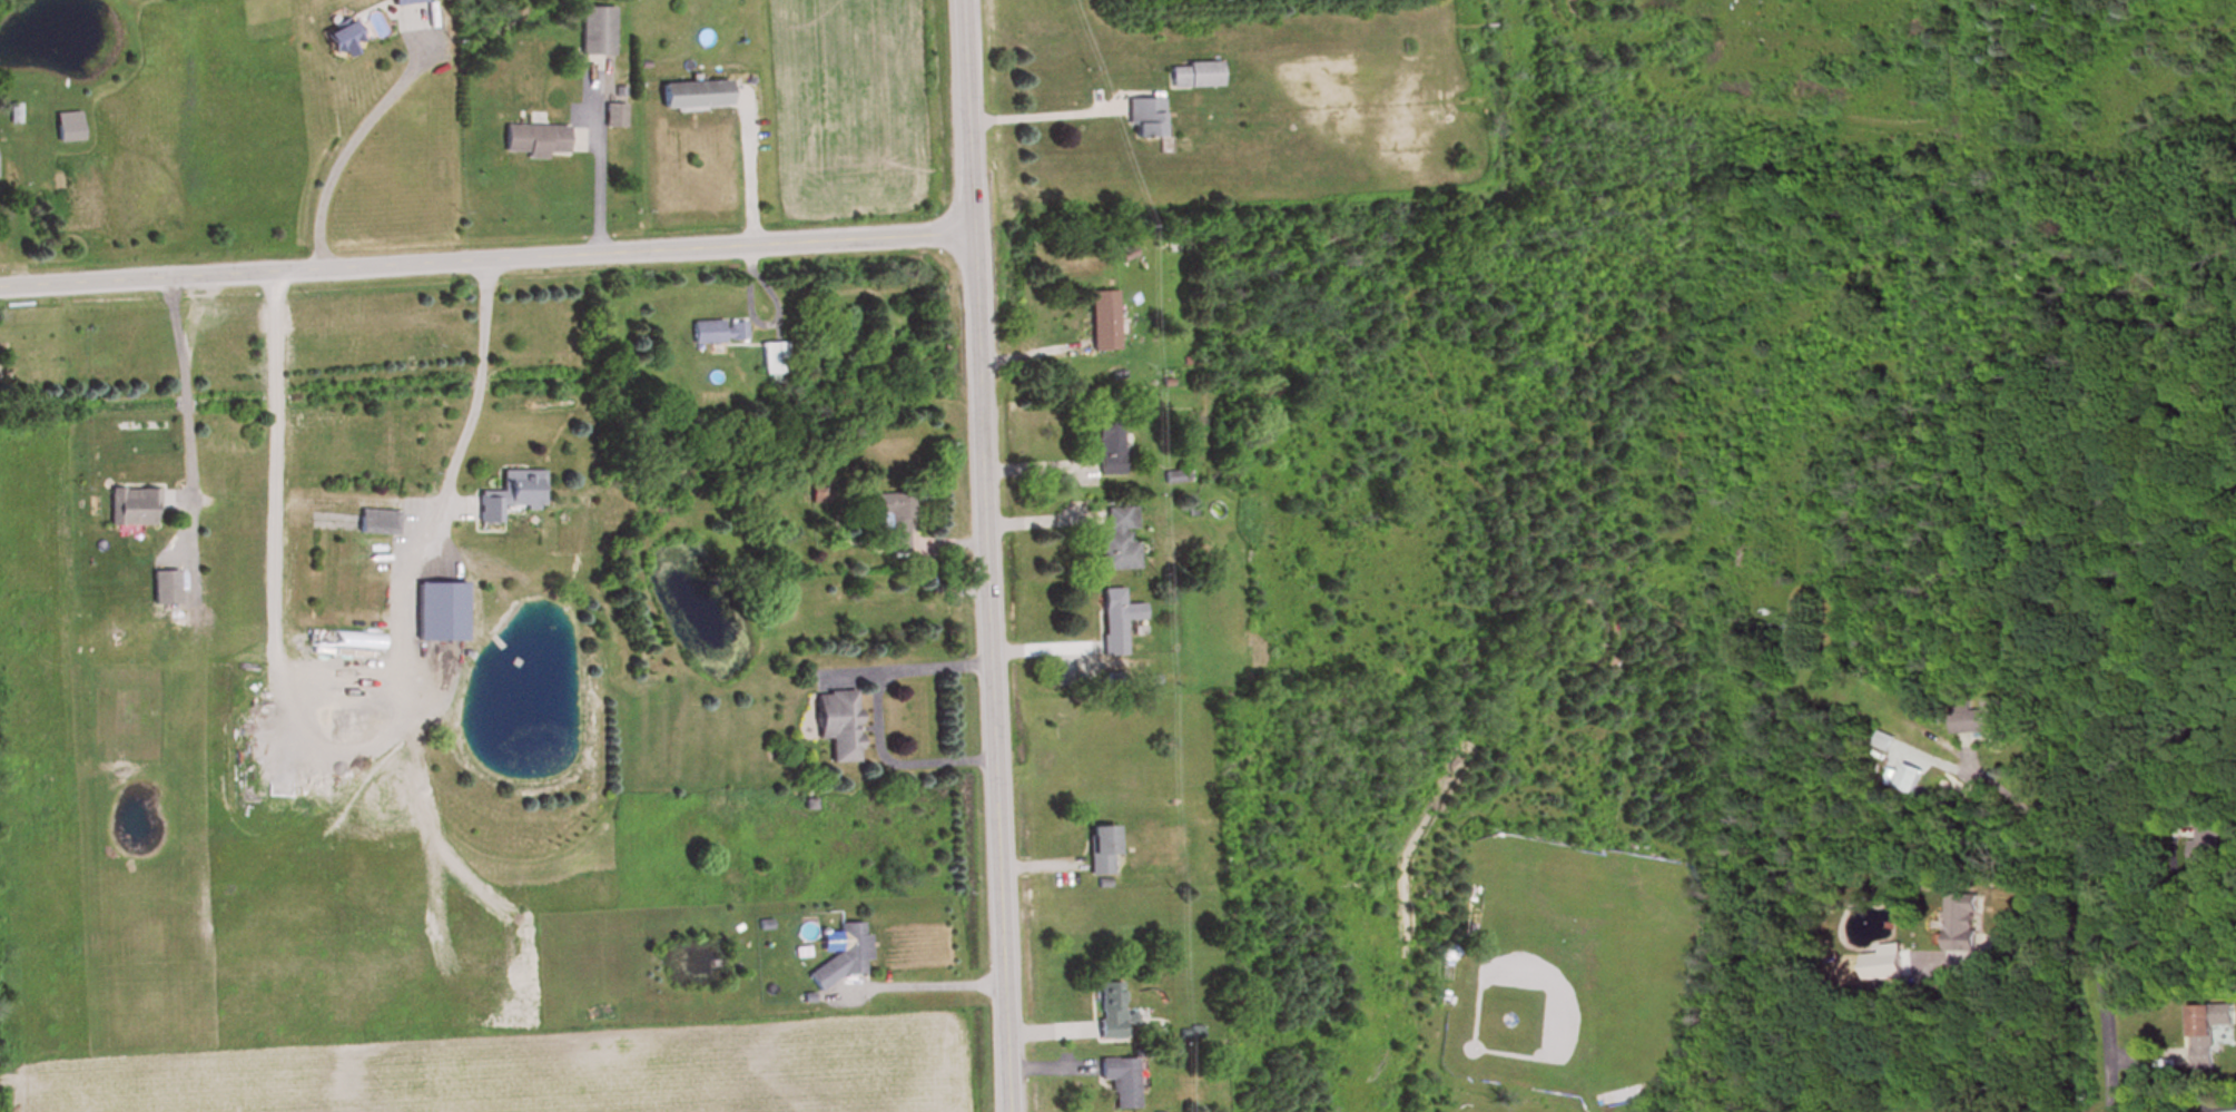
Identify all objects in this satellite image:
building: (408, 2)
building: (598, 32)
building: (343, 41)
building: (1195, 77)
building: (695, 96)
road: (1033, 109)
building: (615, 118)
building: (1145, 120)
building: (68, 128)
road: (348, 138)
building: (536, 141)
road: (598, 163)
road: (749, 169)
road: (483, 263)
building: (1104, 322)
building: (721, 333)
building: (775, 361)
road: (173, 391)
road: (472, 401)
building: (1111, 445)
building: (817, 495)
building: (511, 498)
building: (134, 509)
building: (897, 520)
building: (378, 524)
building: (1120, 540)
road: (984, 555)
building: (166, 590)
building: (441, 607)
building: (1119, 622)
road: (908, 662)
building: (1987, 721)
building: (838, 726)
road: (894, 755)
road: (2012, 790)
building: (2209, 845)
building: (1104, 853)
building: (1962, 926)
road: (2040, 937)
building: (848, 957)
road: (920, 982)
road: (2100, 984)
building: (1113, 1012)
building: (2208, 1035)
building: (1124, 1083)

